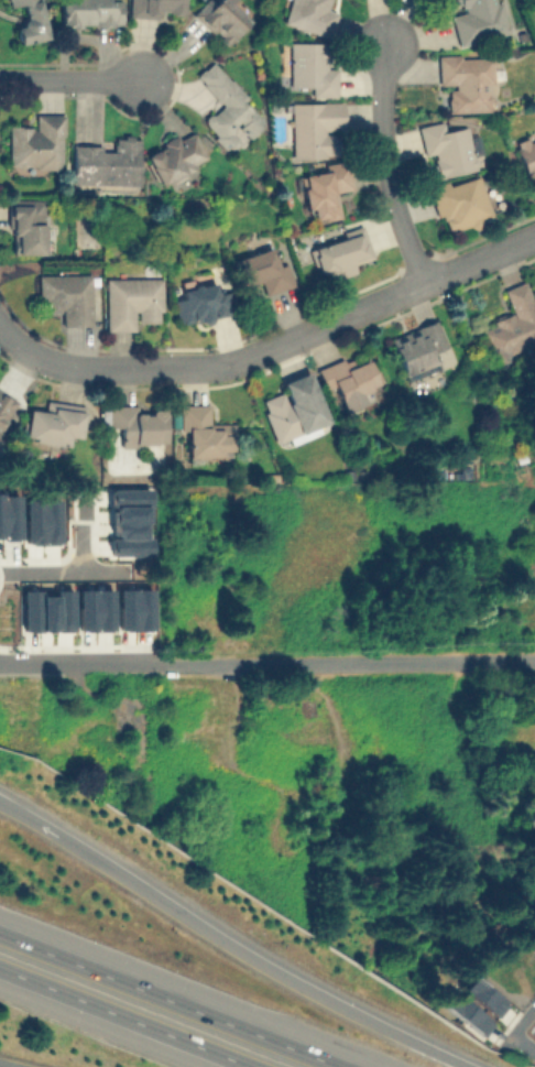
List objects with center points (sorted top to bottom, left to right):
building: (155, 7)
building: (89, 12)
building: (308, 15)
building: (220, 18)
building: (29, 20)
building: (477, 20)
building: (309, 67)
building: (466, 80)
road: (68, 81)
building: (227, 108)
building: (313, 127)
building: (35, 142)
building: (446, 148)
building: (175, 155)
building: (526, 157)
building: (105, 163)
road: (386, 164)
building: (325, 188)
building: (459, 203)
building: (25, 226)
building: (339, 252)
building: (262, 271)
building: (65, 296)
building: (131, 301)
building: (200, 303)
building: (512, 324)
road: (4, 329)
road: (277, 345)
building: (417, 345)
building: (348, 380)
building: (4, 402)
building: (294, 406)
building: (53, 422)
building: (134, 424)
building: (203, 433)
building: (8, 516)
road: (51, 570)
building: (92, 608)
building: (133, 609)
building: (45, 610)
road: (267, 662)
road: (229, 943)
road: (168, 1000)
building: (474, 1009)
road: (124, 1017)
road: (518, 1022)
road: (523, 1042)
road: (7, 1065)

